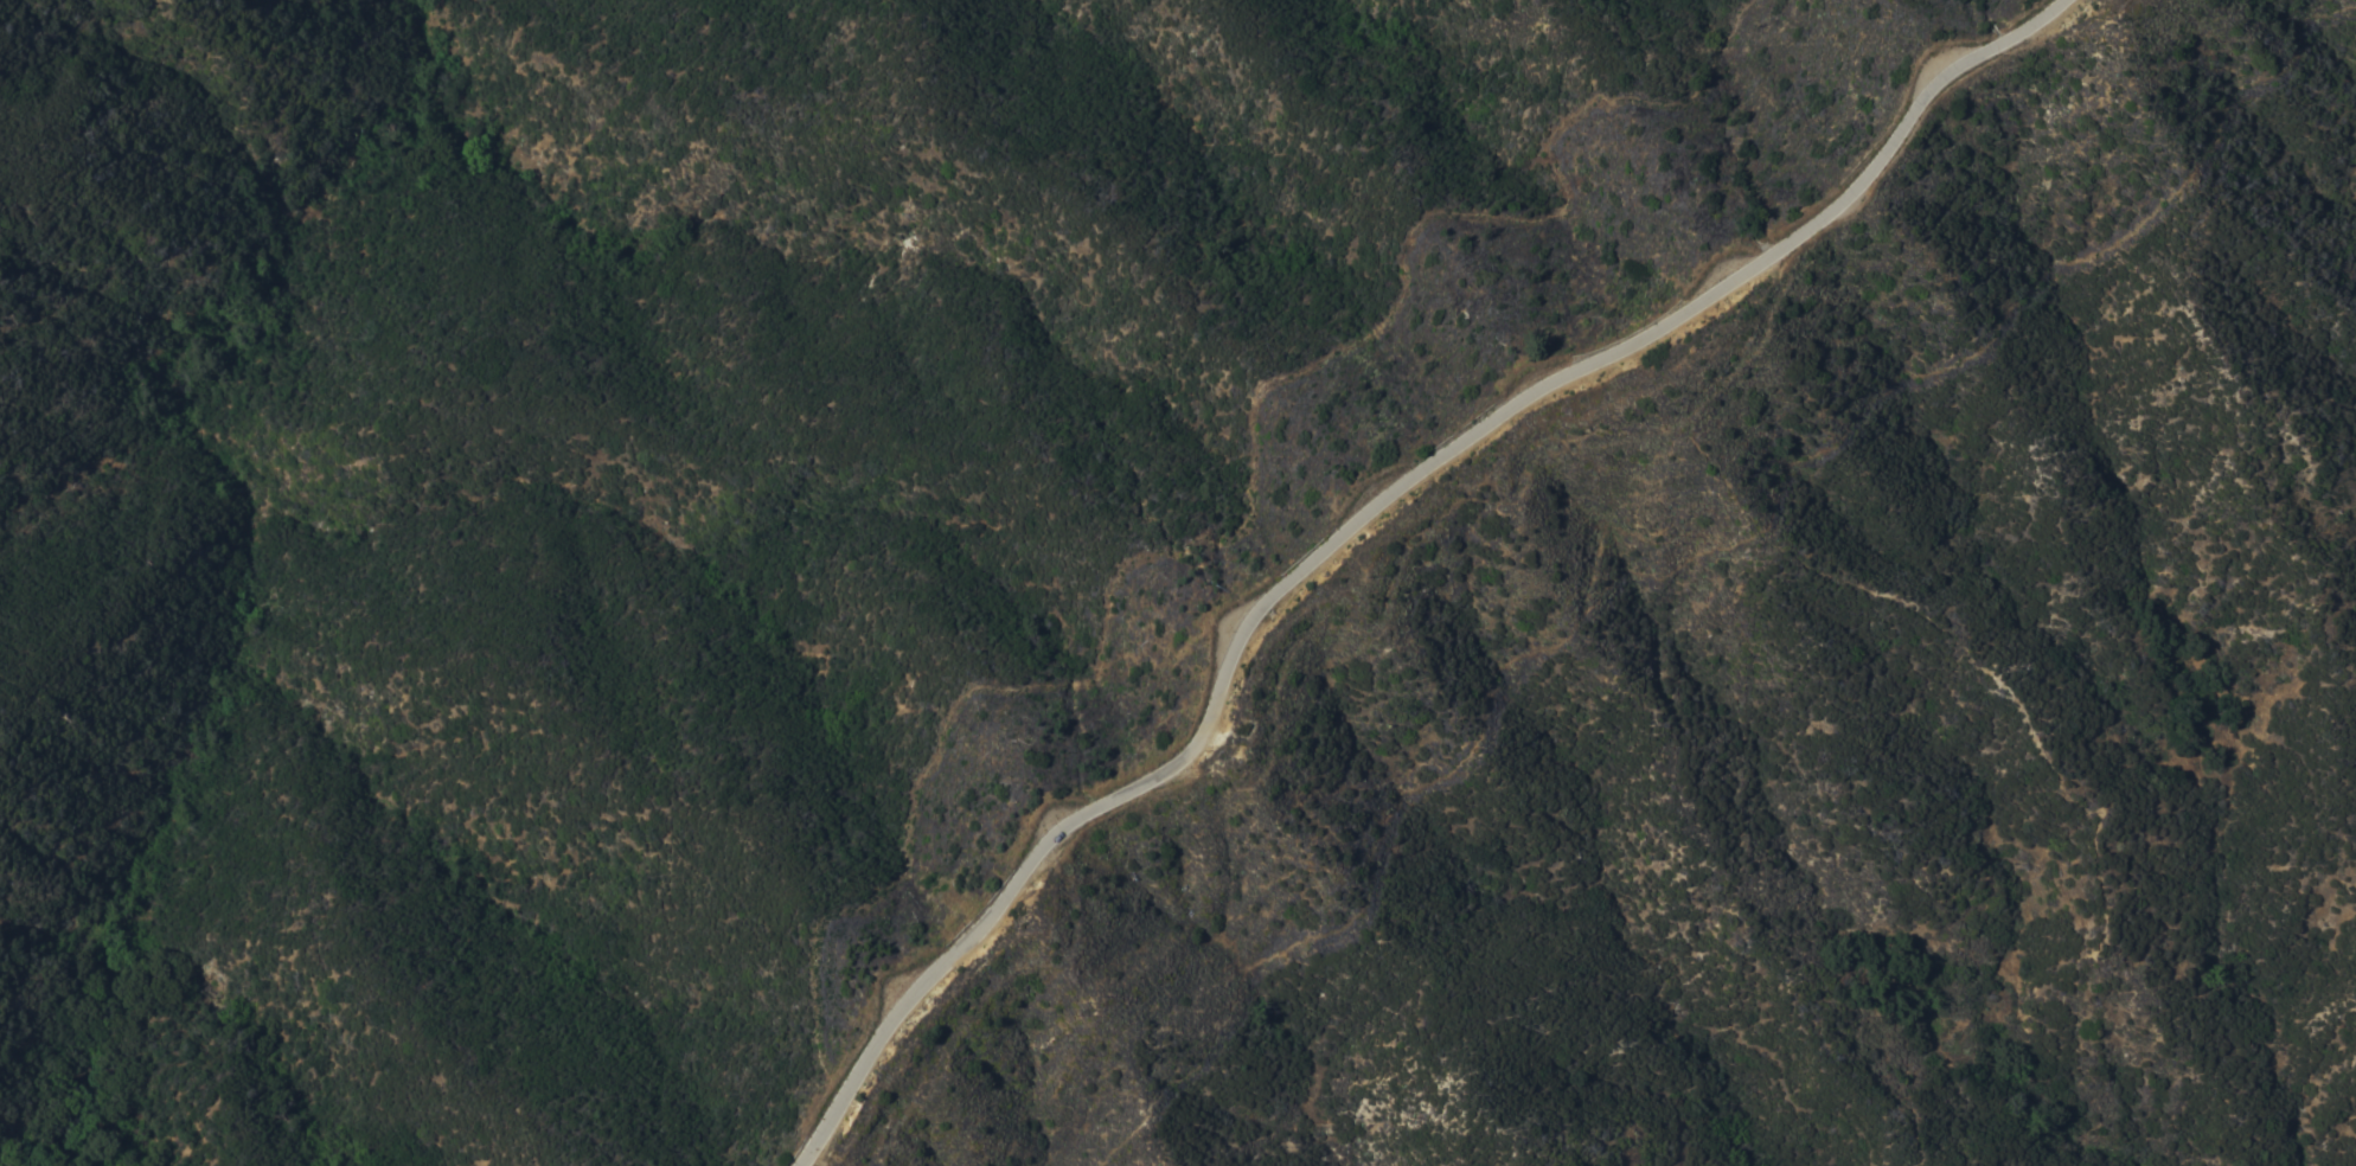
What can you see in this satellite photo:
road: (1364, 519)
road: (2085, 928)
road: (1715, 1031)

